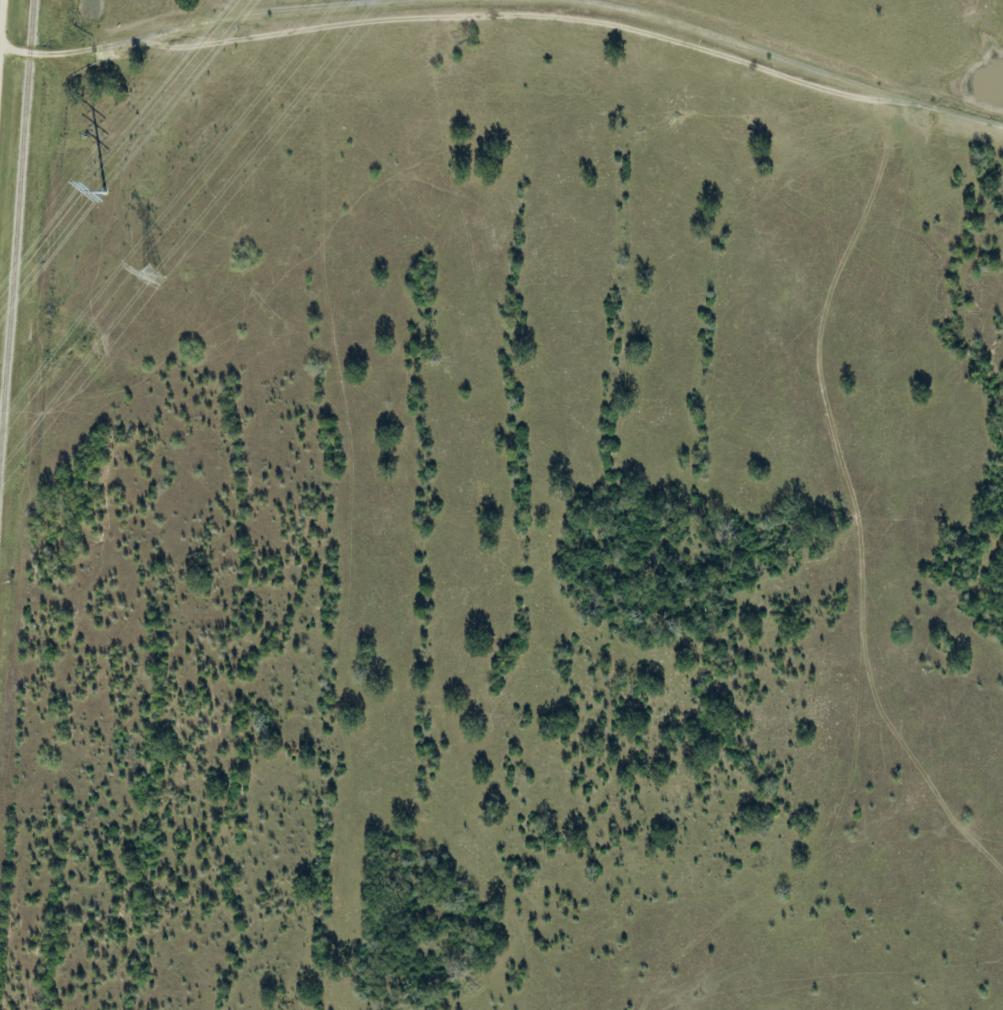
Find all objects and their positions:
road: (2, 35)
road: (73, 54)
railway: (17, 246)
power tower: (153, 275)

